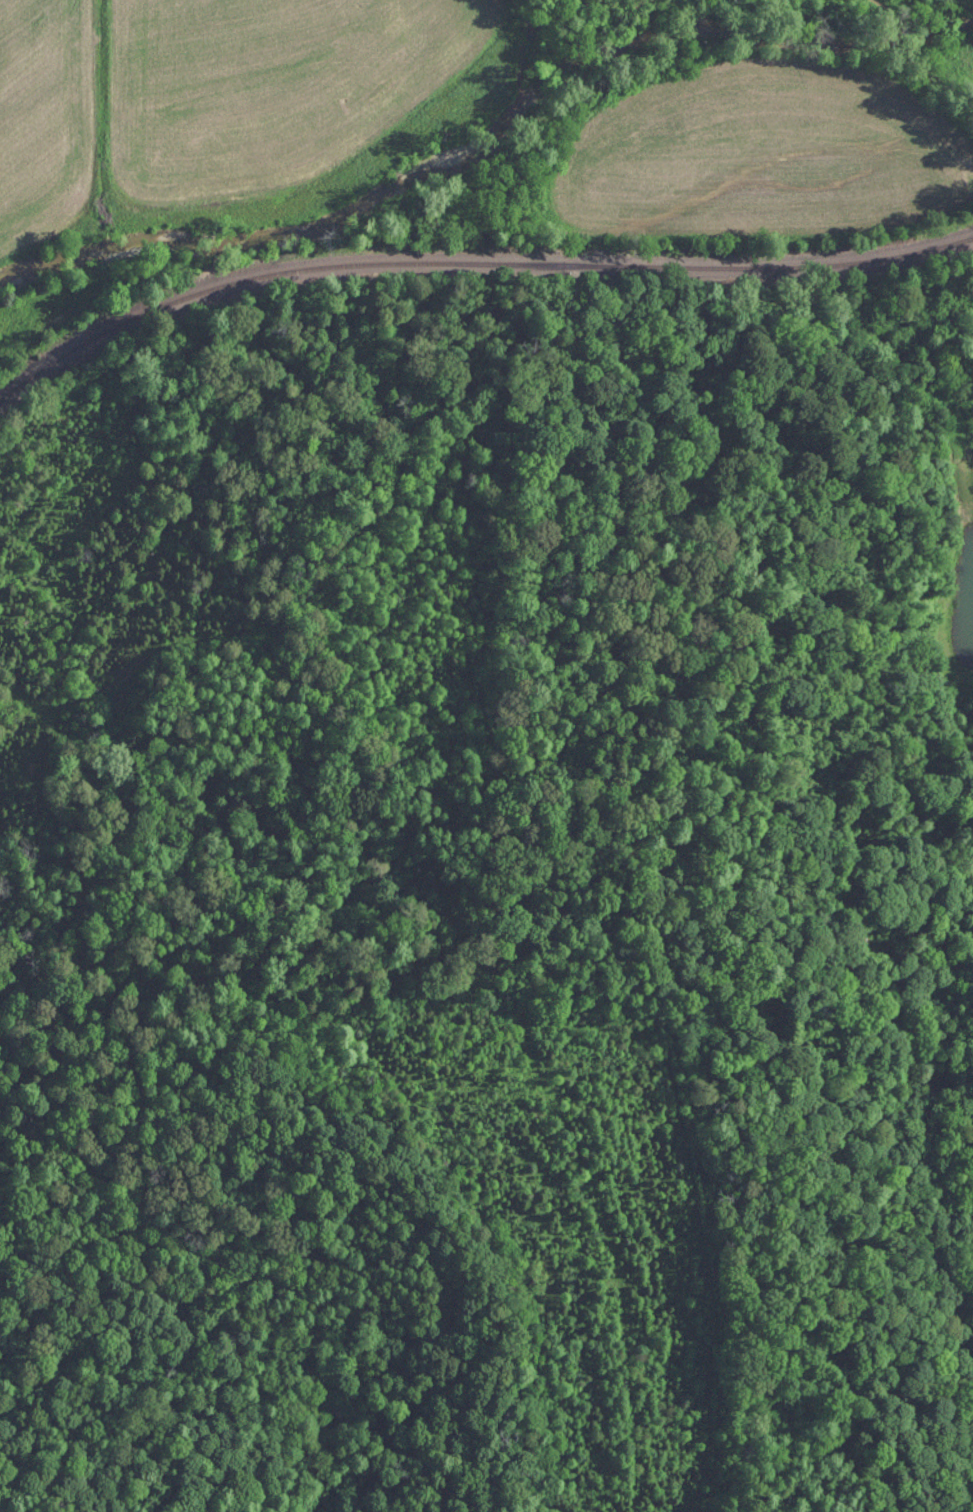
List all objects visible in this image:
railway: (471, 263)

